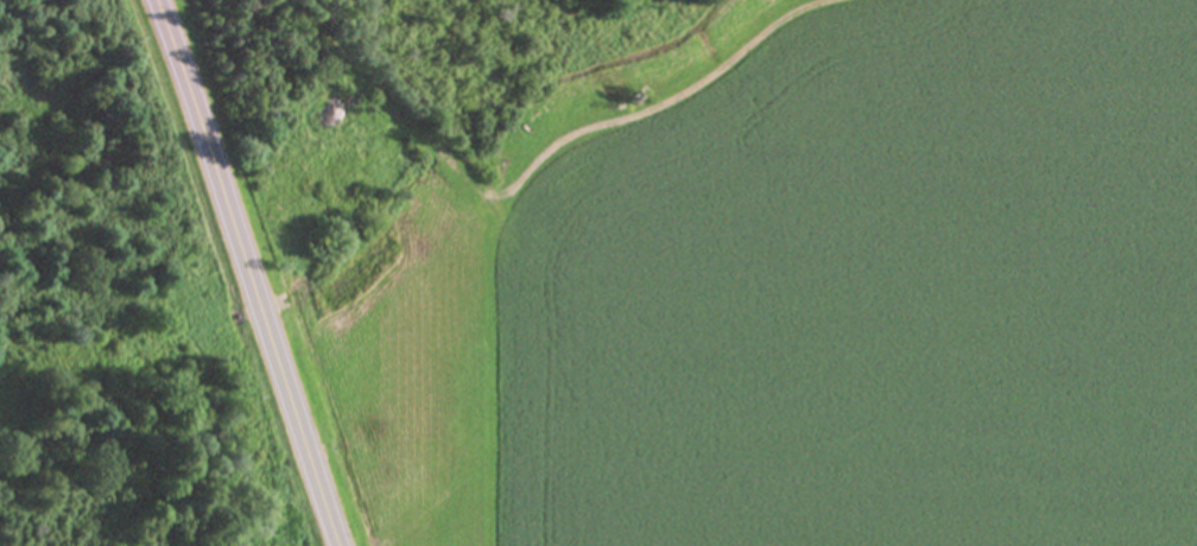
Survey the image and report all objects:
road: (248, 272)
crop: (802, 301)

